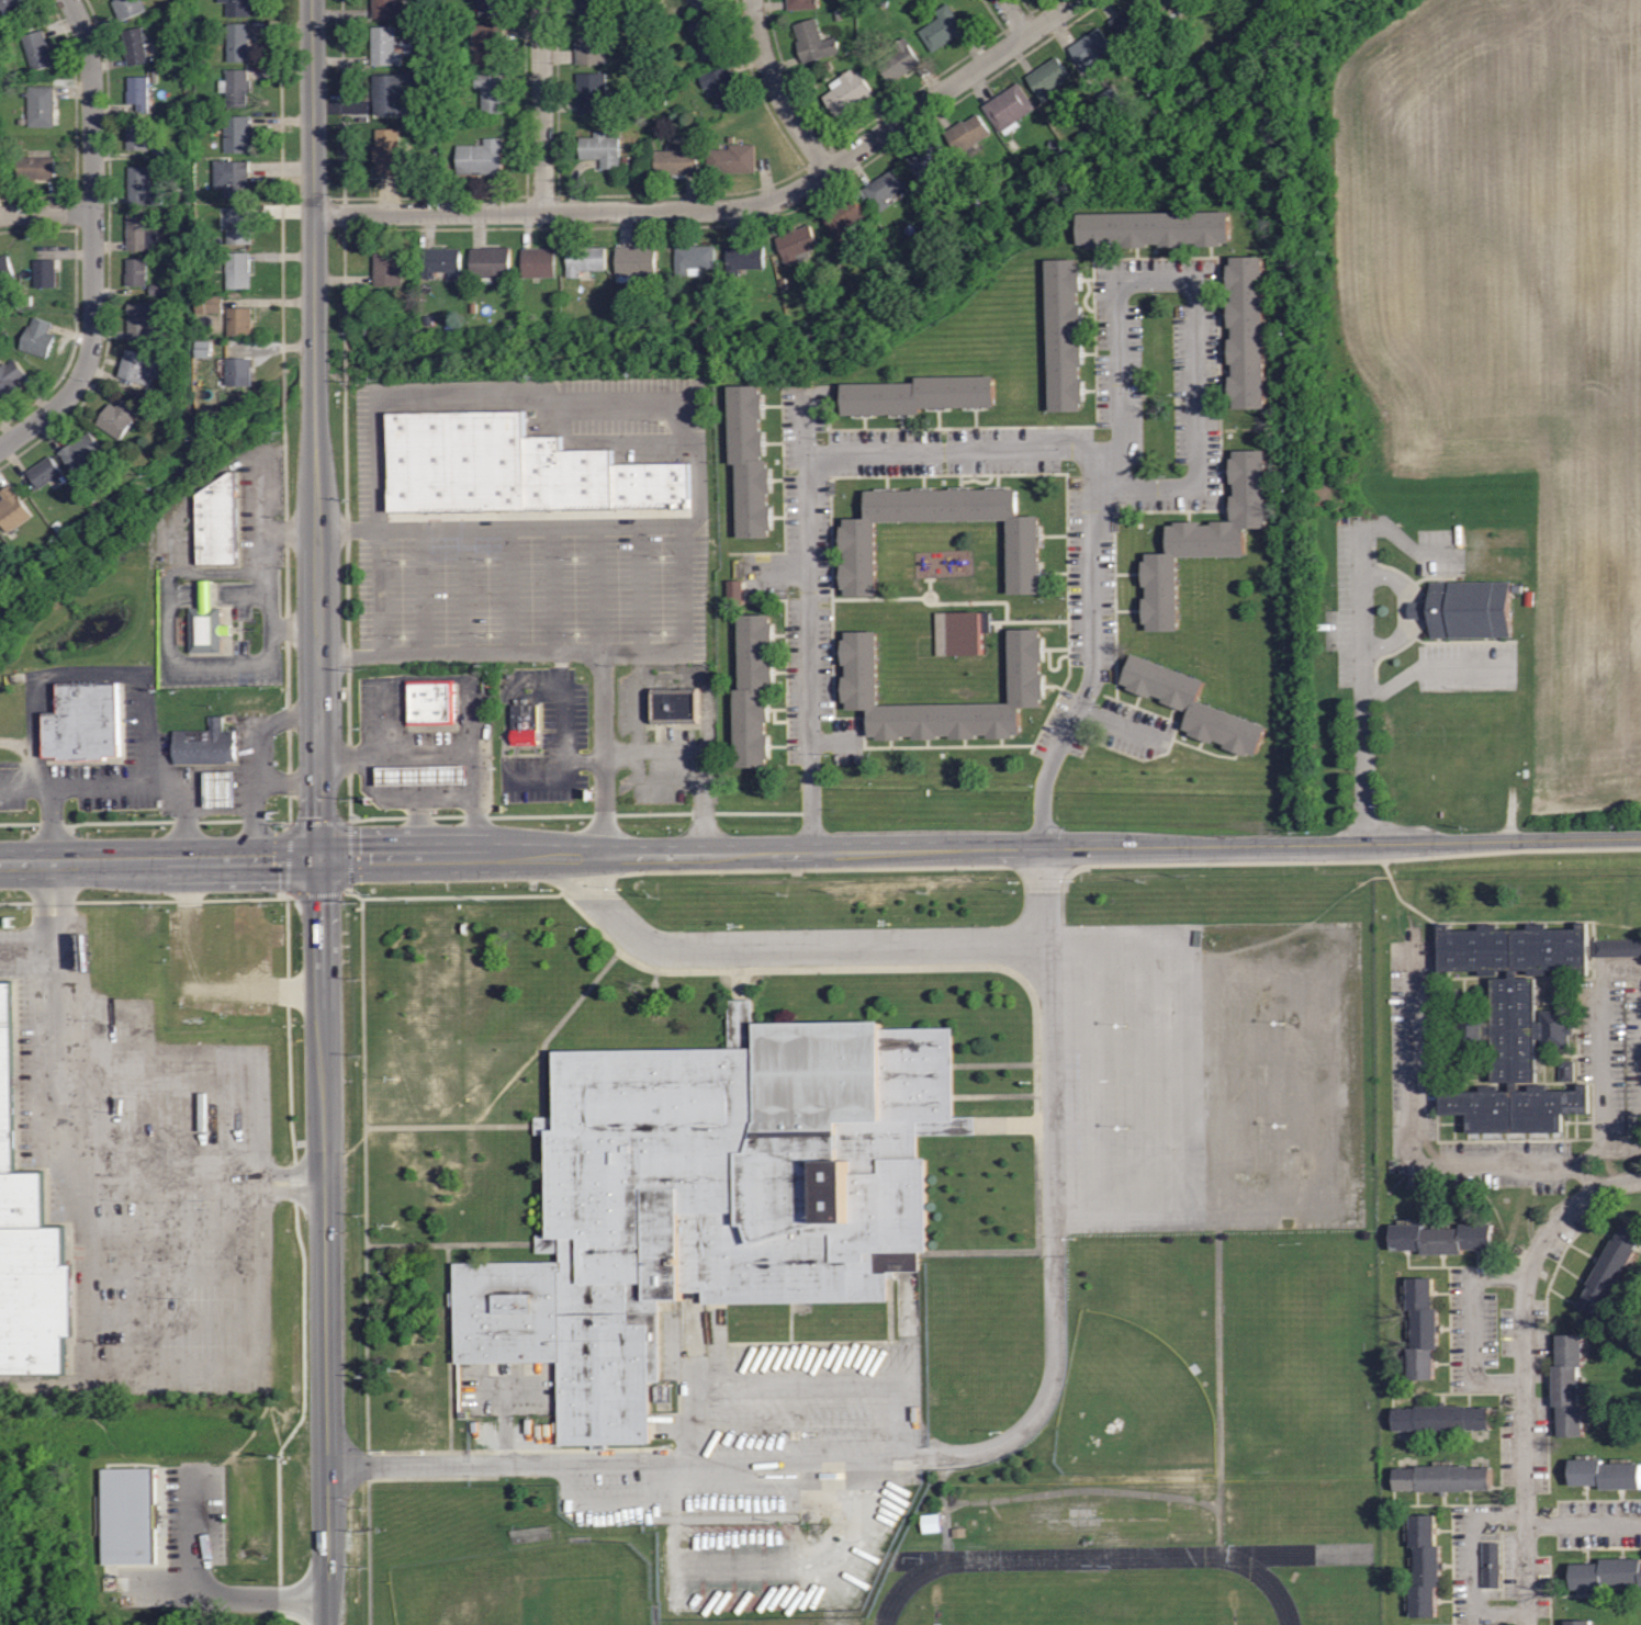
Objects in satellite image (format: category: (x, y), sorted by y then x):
building: (703, 3)
building: (801, 4)
building: (490, 7)
building: (588, 7)
building: (1169, 7)
building: (237, 8)
building: (385, 8)
building: (127, 9)
road: (1014, 16)
road: (1050, 16)
building: (1131, 20)
building: (4, 21)
building: (940, 27)
building: (707, 36)
building: (812, 41)
building: (589, 42)
building: (238, 43)
building: (486, 44)
building: (384, 45)
building: (134, 47)
building: (1089, 47)
building: (37, 52)
building: (898, 60)
building: (1046, 77)
building: (720, 86)
building: (236, 88)
road: (777, 89)
building: (491, 91)
building: (845, 91)
building: (138, 92)
building: (593, 92)
building: (387, 93)
road: (541, 105)
building: (41, 106)
building: (1008, 108)
building: (966, 132)
building: (237, 135)
building: (137, 136)
building: (602, 148)
building: (158, 151)
building: (387, 151)
building: (480, 157)
building: (676, 158)
building: (730, 160)
building: (926, 160)
building: (36, 168)
building: (234, 179)
building: (884, 187)
building: (143, 188)
road: (91, 189)
road: (695, 210)
road: (45, 212)
building: (843, 216)
building: (239, 226)
building: (1154, 228)
building: (141, 234)
building: (30, 237)
building: (796, 244)
building: (743, 257)
building: (694, 258)
building: (584, 259)
building: (439, 260)
building: (538, 261)
building: (636, 261)
building: (490, 262)
building: (386, 266)
building: (5, 271)
building: (239, 271)
building: (137, 273)
building: (46, 274)
building: (159, 290)
building: (26, 301)
building: (211, 305)
crop: (1515, 317)
building: (142, 323)
building: (240, 323)
building: (1245, 330)
building: (1064, 334)
road: (1117, 335)
building: (38, 339)
building: (180, 345)
building: (207, 349)
building: (143, 368)
building: (241, 373)
building: (11, 380)
building: (917, 394)
road: (532, 404)
road: (42, 416)
building: (119, 419)
road: (1195, 424)
road: (956, 443)
building: (83, 452)
building: (750, 460)
road: (1105, 465)
building: (514, 467)
building: (45, 473)
road: (188, 496)
building: (15, 509)
road: (260, 519)
building: (221, 523)
road: (638, 526)
building: (59, 527)
building: (857, 538)
building: (1204, 538)
road: (261, 549)
road: (387, 558)
road: (215, 574)
road: (767, 574)
road: (169, 584)
building: (737, 591)
road: (205, 593)
road: (237, 593)
building: (1468, 609)
road: (170, 614)
road: (808, 617)
road: (271, 618)
building: (206, 625)
road: (1362, 630)
building: (970, 633)
road: (559, 650)
road: (1431, 665)
road: (237, 666)
road: (1092, 669)
road: (441, 678)
building: (859, 686)
building: (752, 690)
building: (429, 701)
road: (145, 702)
building: (674, 704)
building: (1192, 704)
building: (86, 723)
building: (525, 723)
road: (561, 726)
road: (1123, 726)
road: (835, 741)
building: (205, 747)
road: (256, 760)
road: (425, 760)
road: (690, 763)
road: (288, 782)
road: (20, 788)
building: (221, 789)
road: (446, 801)
road: (406, 802)
road: (196, 811)
road: (319, 812)
road: (980, 848)
road: (159, 861)
road: (1046, 895)
road: (625, 922)
road: (875, 943)
building: (1619, 948)
road: (23, 956)
building: (1513, 1024)
road: (1603, 1039)
road: (196, 1054)
building: (1570, 1071)
road: (1185, 1072)
road: (1413, 1128)
road: (1622, 1149)
road: (1591, 1154)
road: (1587, 1175)
road: (167, 1182)
road: (1618, 1182)
building: (712, 1198)
building: (1441, 1238)
building: (27, 1241)
building: (1610, 1266)
road: (83, 1316)
building: (1421, 1327)
road: (1474, 1327)
building: (1567, 1384)
road: (1526, 1392)
building: (1441, 1418)
road: (926, 1452)
building: (1605, 1472)
building: (1442, 1478)
road: (1488, 1514)
building: (130, 1515)
building: (934, 1524)
building: (960, 1533)
building: (1424, 1565)
building: (1494, 1566)
track: (1105, 1567)
building: (1606, 1572)
road: (210, 1590)
park: (1089, 1605)
building: (1577, 1622)

